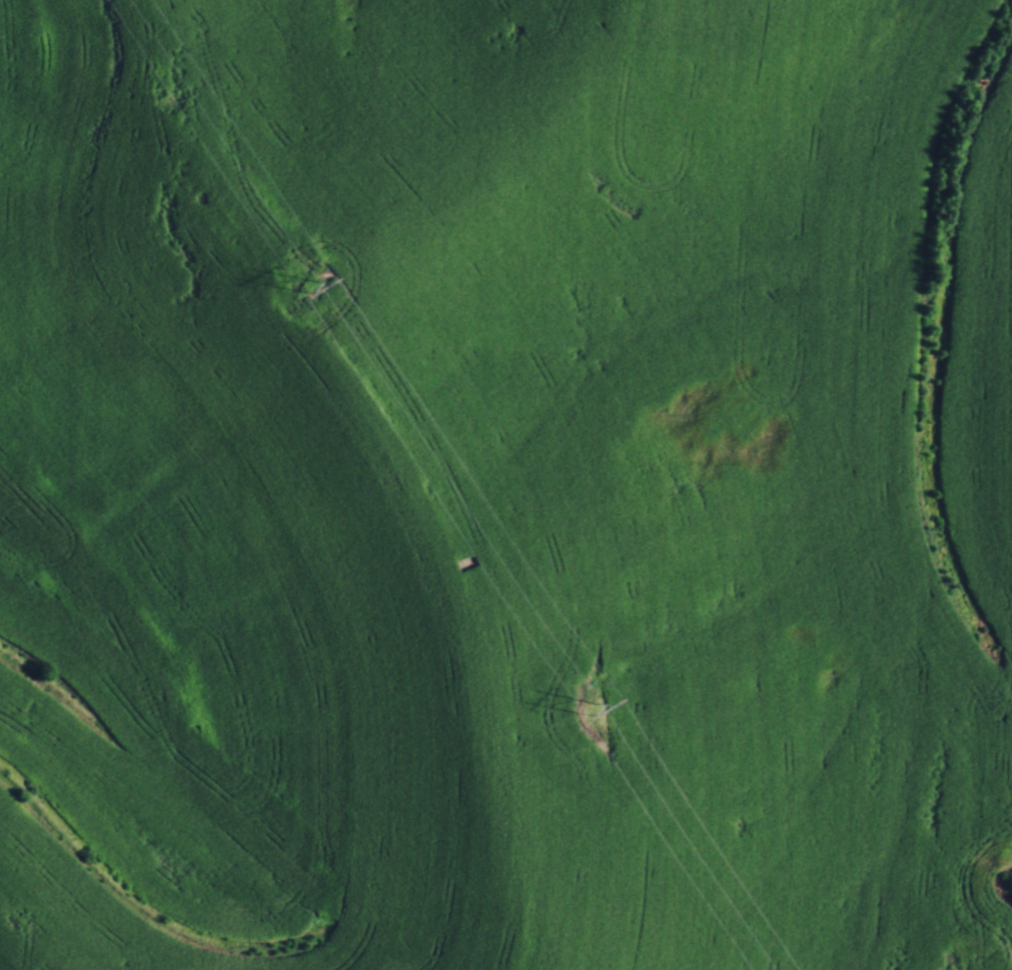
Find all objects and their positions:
power tower: (311, 290)
power tower: (593, 716)

